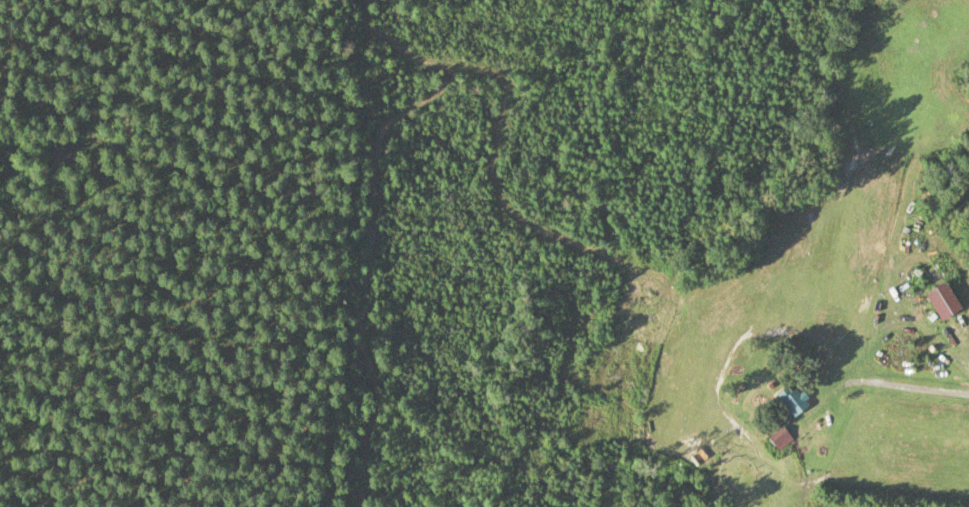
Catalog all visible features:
road: (944, 264)
building: (942, 301)
building: (794, 400)
building: (778, 439)

